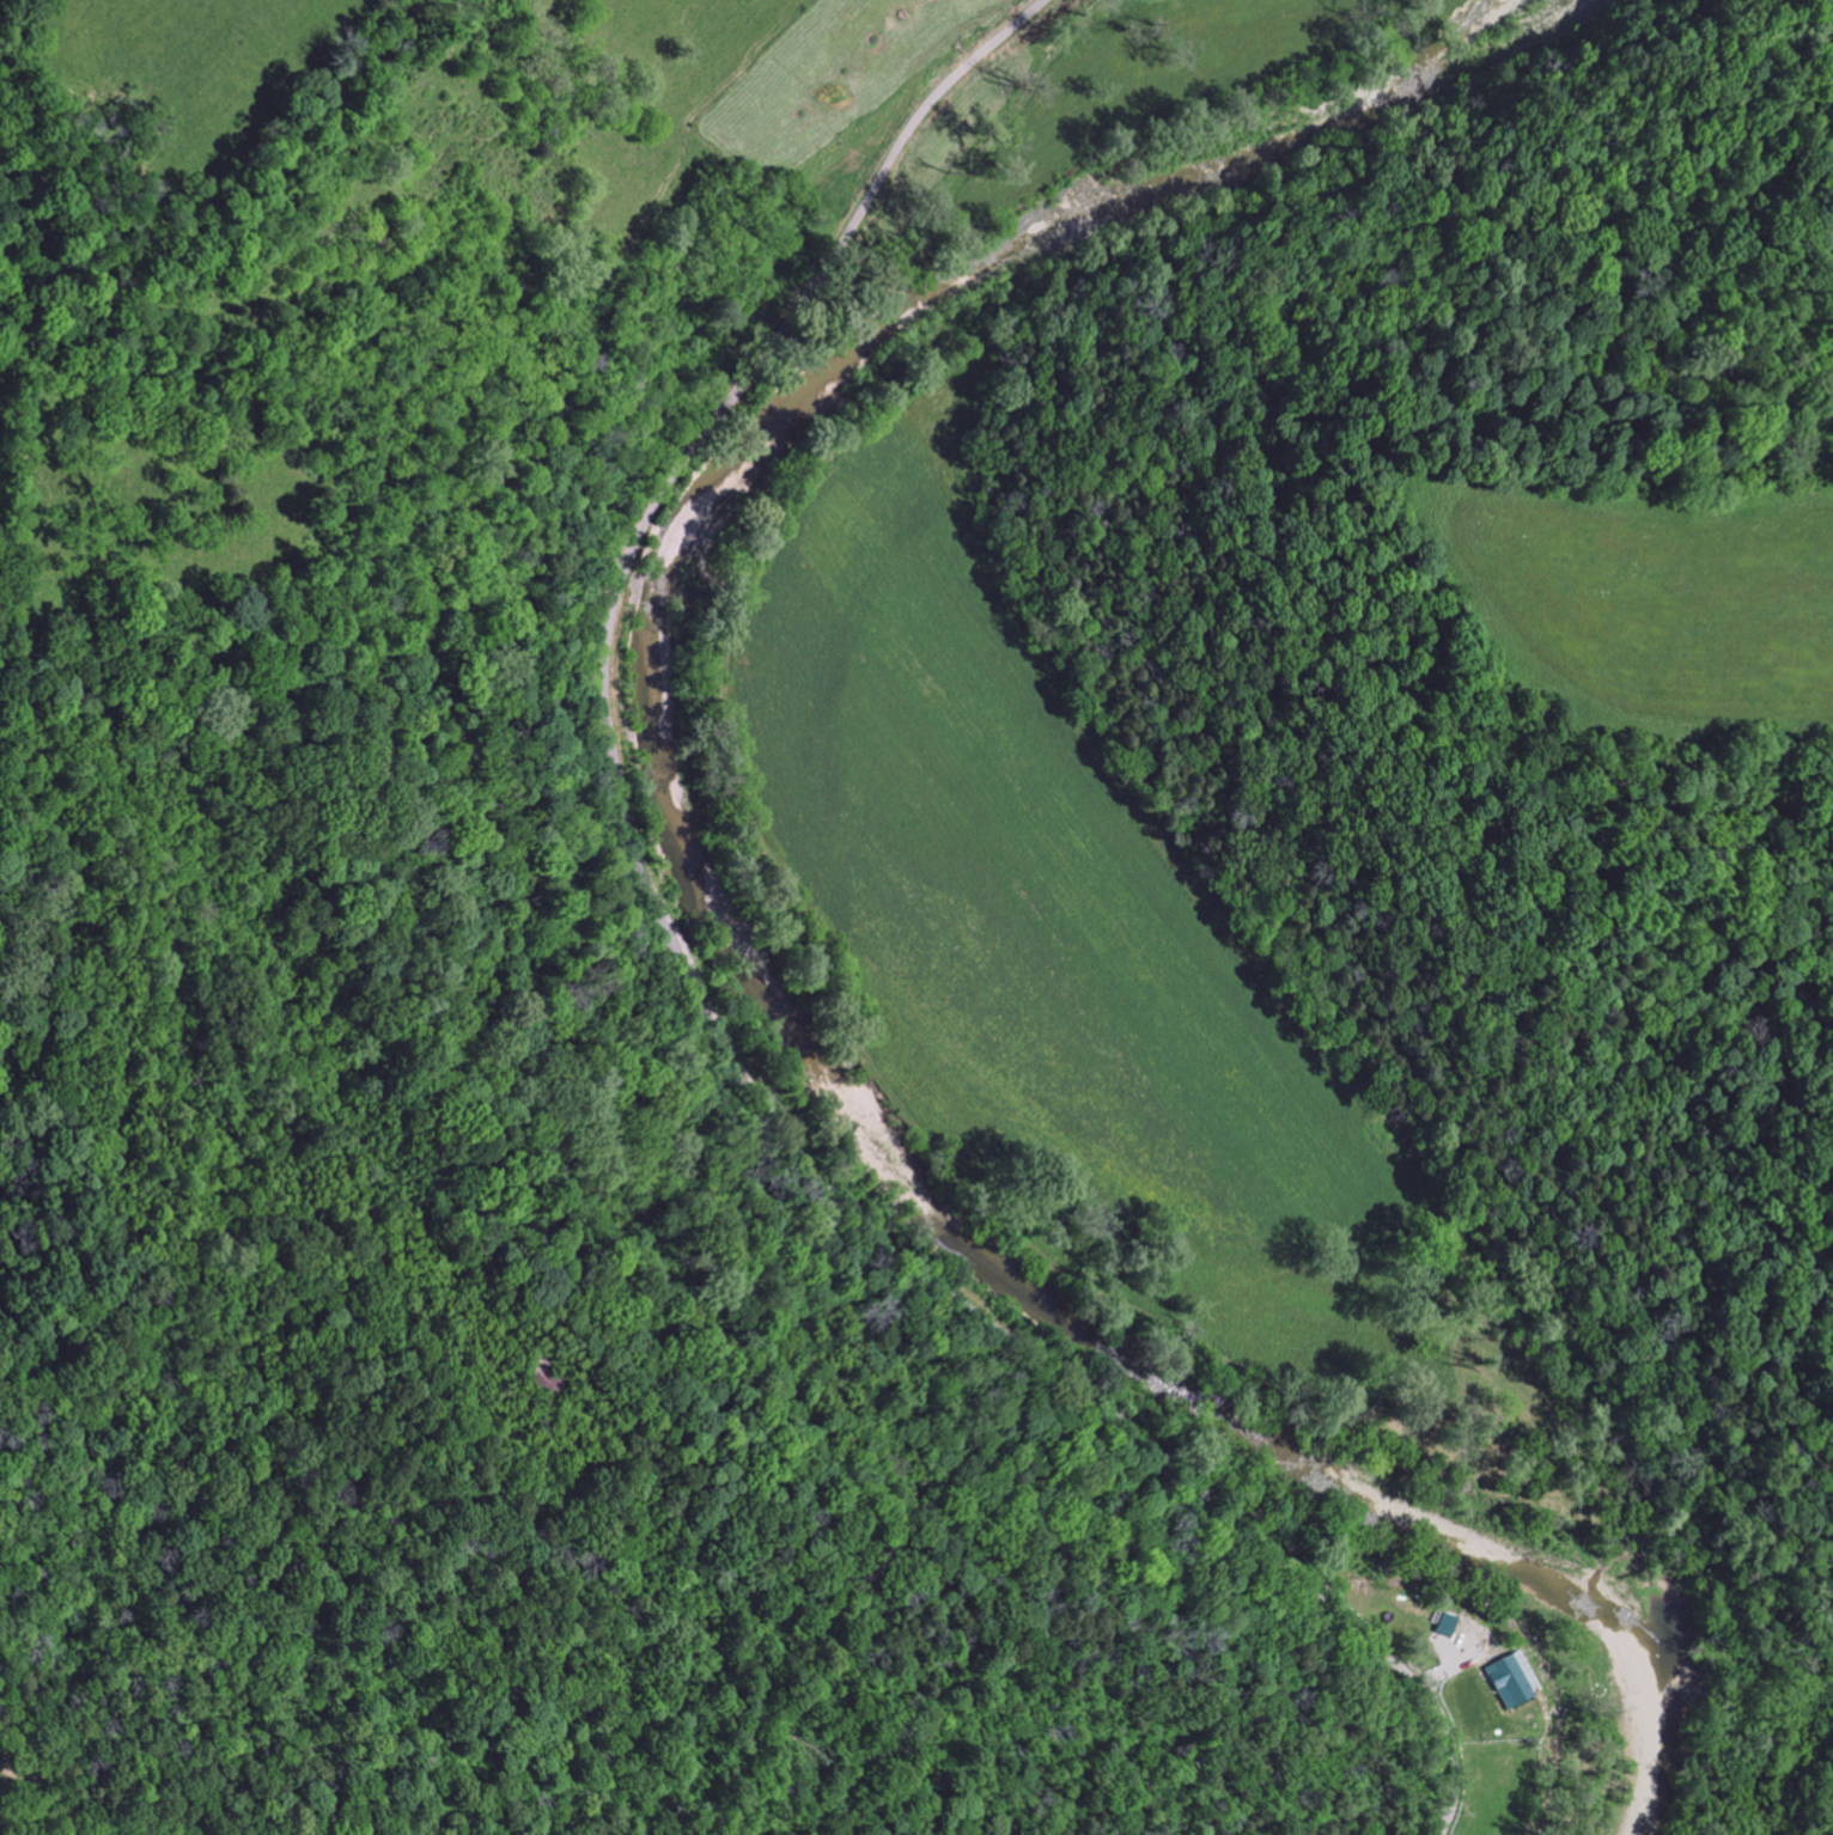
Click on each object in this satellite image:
road: (995, 537)
road: (719, 998)
building: (1444, 1626)
road: (1463, 1662)
road: (1441, 1675)
building: (1509, 1679)

